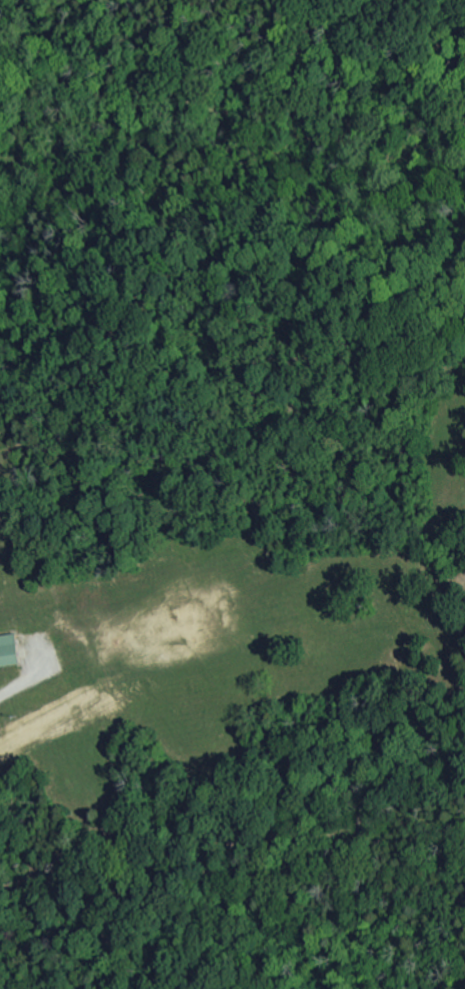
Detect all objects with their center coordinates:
building: (8, 649)

